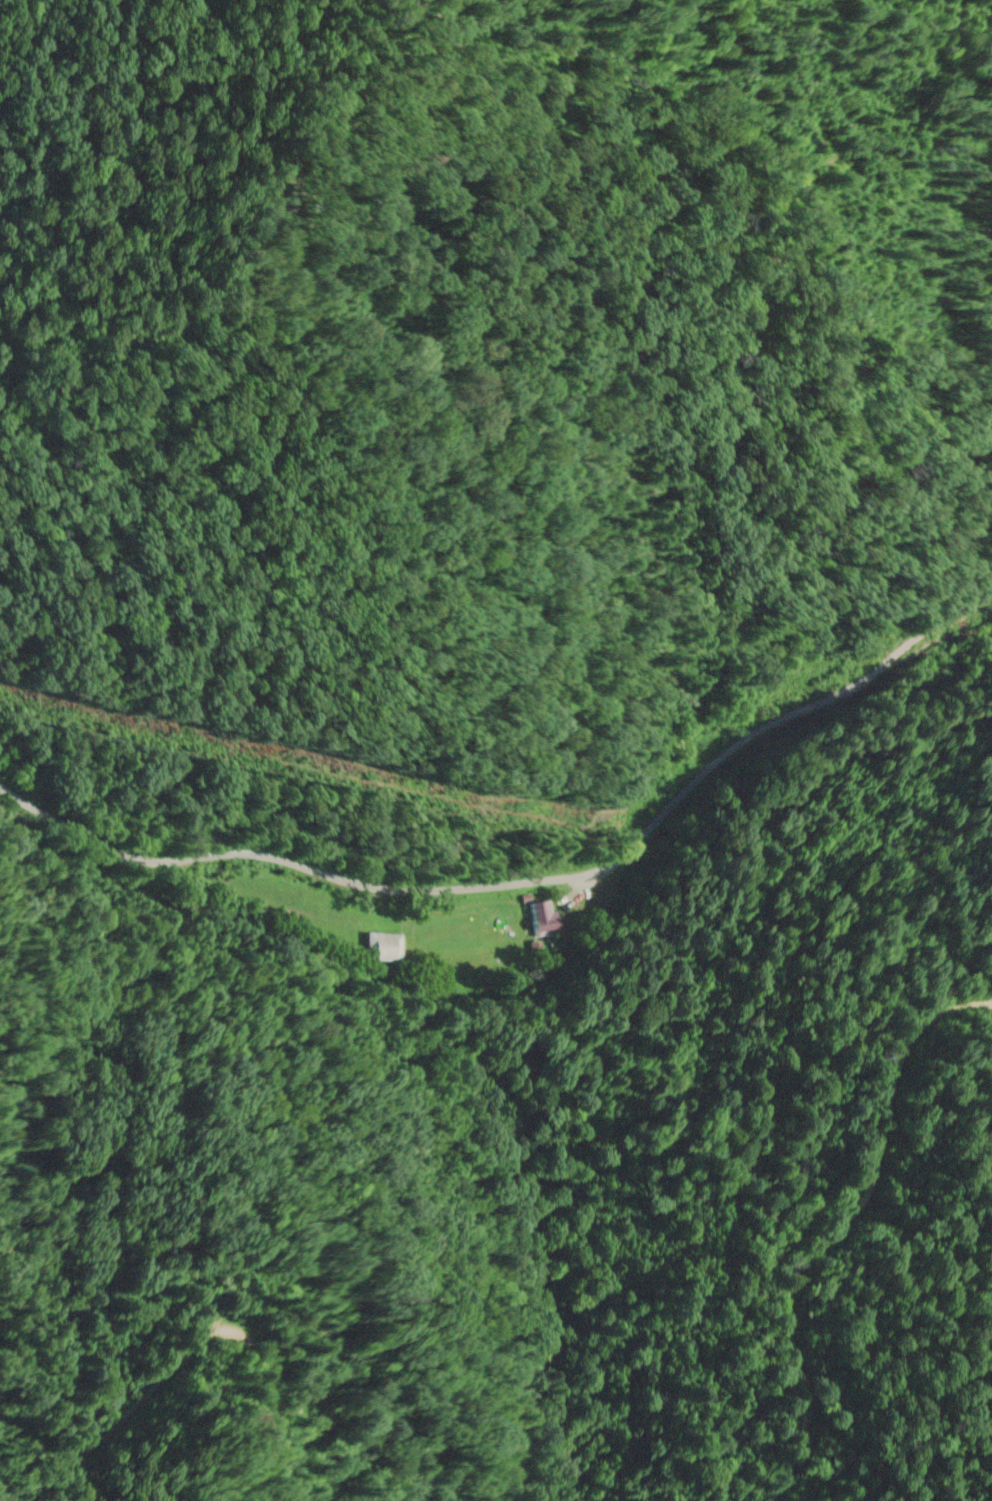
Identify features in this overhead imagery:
road: (531, 881)

